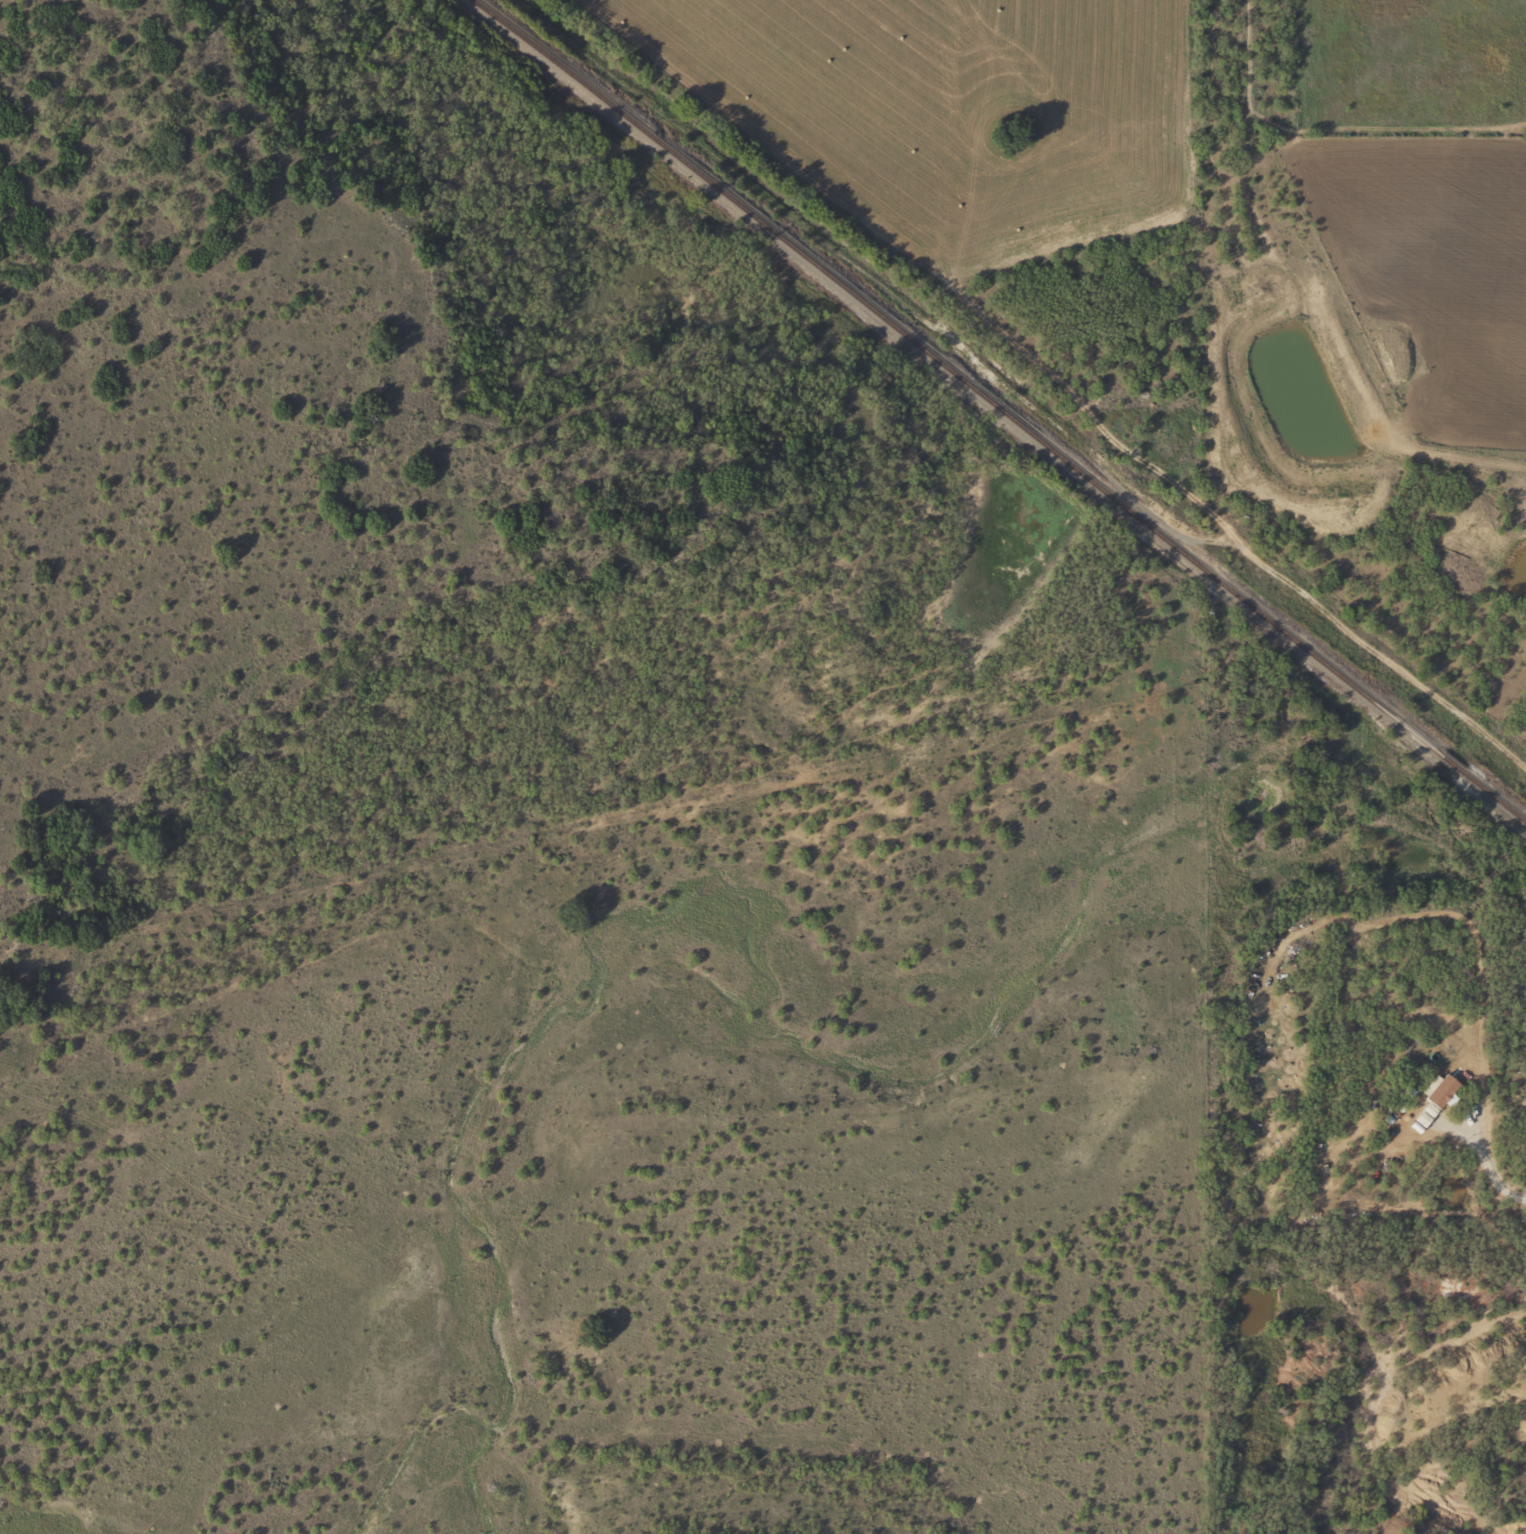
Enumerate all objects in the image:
railway: (583, 90)
railway: (1113, 504)
road: (1236, 536)
building: (1439, 1094)

